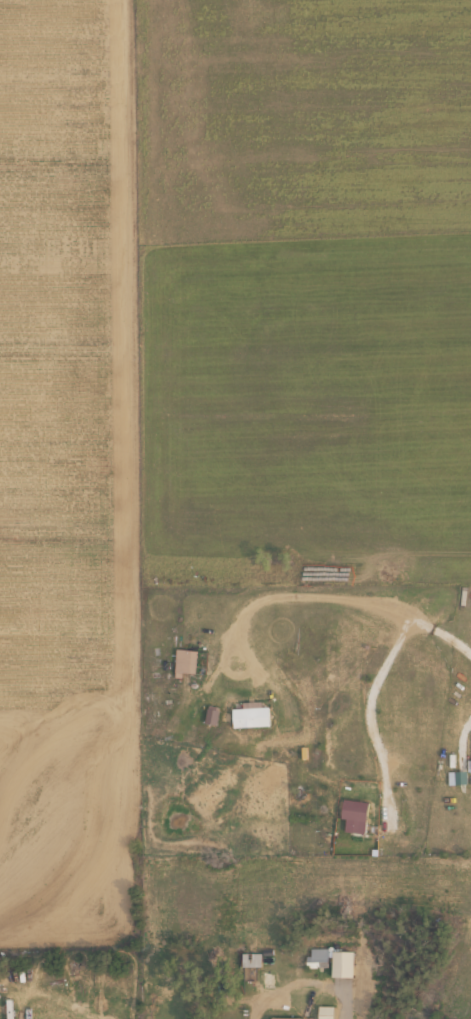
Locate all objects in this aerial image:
building: (314, 959)
building: (250, 960)
building: (339, 964)
building: (269, 982)
building: (322, 1012)
building: (285, 1018)

